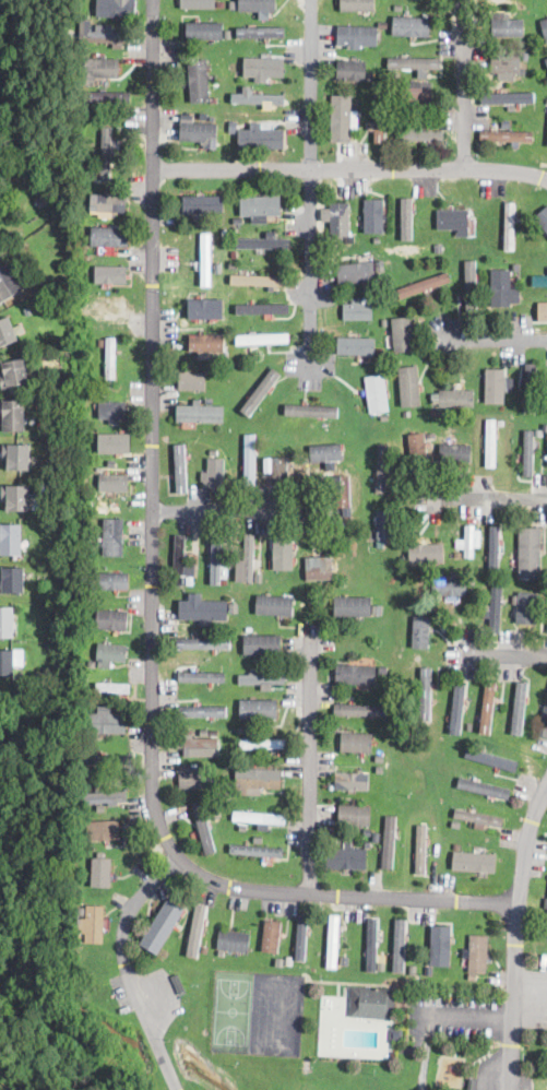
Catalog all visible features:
building: (201, 3)
building: (258, 4)
building: (357, 4)
building: (116, 8)
building: (92, 10)
building: (528, 15)
building: (383, 24)
building: (412, 25)
building: (102, 27)
building: (544, 27)
building: (204, 29)
building: (509, 29)
building: (261, 32)
building: (226, 35)
building: (356, 36)
building: (105, 37)
building: (525, 57)
building: (546, 58)
building: (414, 62)
building: (524, 63)
building: (506, 64)
building: (102, 66)
building: (545, 67)
building: (233, 68)
building: (263, 68)
building: (352, 71)
building: (370, 75)
building: (510, 76)
building: (198, 82)
road: (313, 85)
road: (465, 85)
building: (416, 92)
building: (104, 96)
building: (508, 96)
building: (213, 98)
building: (258, 99)
building: (545, 99)
building: (352, 104)
building: (403, 106)
building: (380, 115)
building: (401, 118)
building: (337, 120)
building: (354, 120)
building: (402, 126)
building: (233, 127)
building: (199, 131)
building: (420, 135)
building: (506, 135)
building: (261, 139)
building: (106, 154)
building: (95, 171)
road: (352, 171)
building: (41, 200)
building: (111, 203)
building: (202, 204)
building: (260, 206)
building: (373, 215)
building: (542, 215)
building: (405, 217)
building: (340, 220)
building: (452, 220)
building: (237, 222)
building: (509, 226)
building: (224, 230)
building: (233, 230)
building: (110, 236)
building: (377, 239)
building: (216, 240)
building: (365, 242)
building: (263, 244)
building: (406, 245)
building: (439, 249)
building: (235, 253)
building: (543, 254)
building: (206, 260)
building: (365, 261)
building: (233, 265)
building: (478, 265)
building: (218, 268)
building: (516, 268)
building: (87, 272)
building: (110, 274)
building: (360, 274)
road: (313, 280)
building: (257, 281)
building: (540, 281)
building: (10, 283)
building: (423, 285)
building: (469, 287)
building: (502, 288)
building: (380, 306)
building: (207, 307)
building: (111, 308)
building: (262, 309)
building: (357, 309)
building: (94, 310)
building: (542, 311)
building: (259, 318)
building: (221, 321)
building: (7, 332)
building: (403, 333)
road: (494, 337)
building: (262, 339)
building: (206, 342)
building: (102, 343)
building: (356, 346)
building: (253, 349)
building: (380, 352)
building: (110, 362)
building: (234, 366)
building: (13, 374)
building: (190, 381)
building: (530, 386)
building: (58, 387)
building: (495, 387)
building: (255, 388)
building: (409, 389)
building: (260, 391)
building: (377, 393)
building: (453, 398)
building: (490, 405)
building: (544, 407)
building: (311, 411)
building: (112, 412)
building: (200, 413)
building: (435, 413)
building: (441, 413)
building: (13, 415)
building: (418, 416)
building: (385, 417)
building: (501, 422)
building: (105, 429)
building: (539, 431)
building: (114, 442)
building: (490, 443)
building: (189, 448)
building: (418, 448)
building: (233, 449)
building: (325, 452)
building: (455, 452)
building: (219, 453)
building: (295, 455)
building: (527, 455)
building: (17, 457)
building: (250, 461)
building: (110, 463)
building: (180, 467)
building: (382, 469)
building: (277, 471)
building: (215, 472)
building: (295, 481)
building: (114, 483)
building: (340, 490)
building: (16, 497)
road: (488, 497)
road: (231, 509)
building: (336, 516)
building: (385, 525)
building: (87, 534)
building: (115, 536)
building: (10, 540)
building: (469, 541)
building: (494, 547)
building: (251, 549)
building: (283, 550)
building: (528, 552)
building: (429, 554)
building: (457, 555)
building: (93, 558)
building: (216, 558)
building: (179, 559)
building: (406, 566)
building: (319, 569)
building: (263, 570)
building: (111, 579)
building: (12, 580)
building: (190, 581)
building: (506, 581)
building: (88, 582)
building: (416, 582)
building: (449, 587)
building: (514, 599)
road: (155, 604)
building: (274, 604)
building: (353, 605)
building: (527, 608)
building: (203, 609)
building: (495, 609)
building: (111, 619)
building: (7, 621)
building: (420, 631)
building: (203, 642)
building: (261, 643)
building: (110, 652)
road: (506, 655)
building: (10, 661)
building: (92, 663)
building: (382, 668)
building: (356, 675)
building: (201, 677)
building: (262, 678)
building: (109, 687)
building: (425, 692)
building: (488, 706)
building: (258, 708)
building: (457, 708)
building: (203, 709)
building: (360, 709)
building: (519, 709)
building: (544, 714)
building: (105, 724)
building: (506, 730)
building: (543, 730)
building: (204, 731)
building: (249, 732)
building: (214, 733)
building: (357, 741)
building: (262, 744)
building: (197, 745)
building: (379, 758)
building: (492, 759)
building: (105, 760)
road: (311, 769)
building: (380, 770)
building: (190, 777)
building: (255, 780)
building: (225, 781)
building: (350, 781)
building: (484, 789)
building: (103, 797)
building: (354, 814)
building: (259, 817)
building: (476, 817)
building: (380, 821)
building: (455, 822)
building: (200, 825)
building: (225, 825)
building: (242, 826)
building: (235, 827)
building: (104, 829)
building: (367, 844)
building: (389, 845)
building: (456, 846)
building: (420, 848)
building: (257, 850)
building: (346, 857)
building: (473, 862)
building: (109, 868)
building: (100, 870)
building: (545, 903)
building: (94, 924)
building: (163, 926)
building: (195, 929)
building: (271, 935)
building: (301, 937)
building: (234, 939)
road: (516, 939)
building: (332, 941)
building: (372, 945)
building: (399, 945)
building: (442, 947)
building: (204, 951)
building: (221, 952)
building: (477, 953)
building: (344, 957)
building: (176, 968)
road: (130, 969)
building: (472, 976)
building: (178, 984)
building: (331, 990)
building: (341, 993)
building: (372, 1004)
park: (231, 1009)
road: (467, 1015)
building: (395, 1035)
building: (471, 1083)

